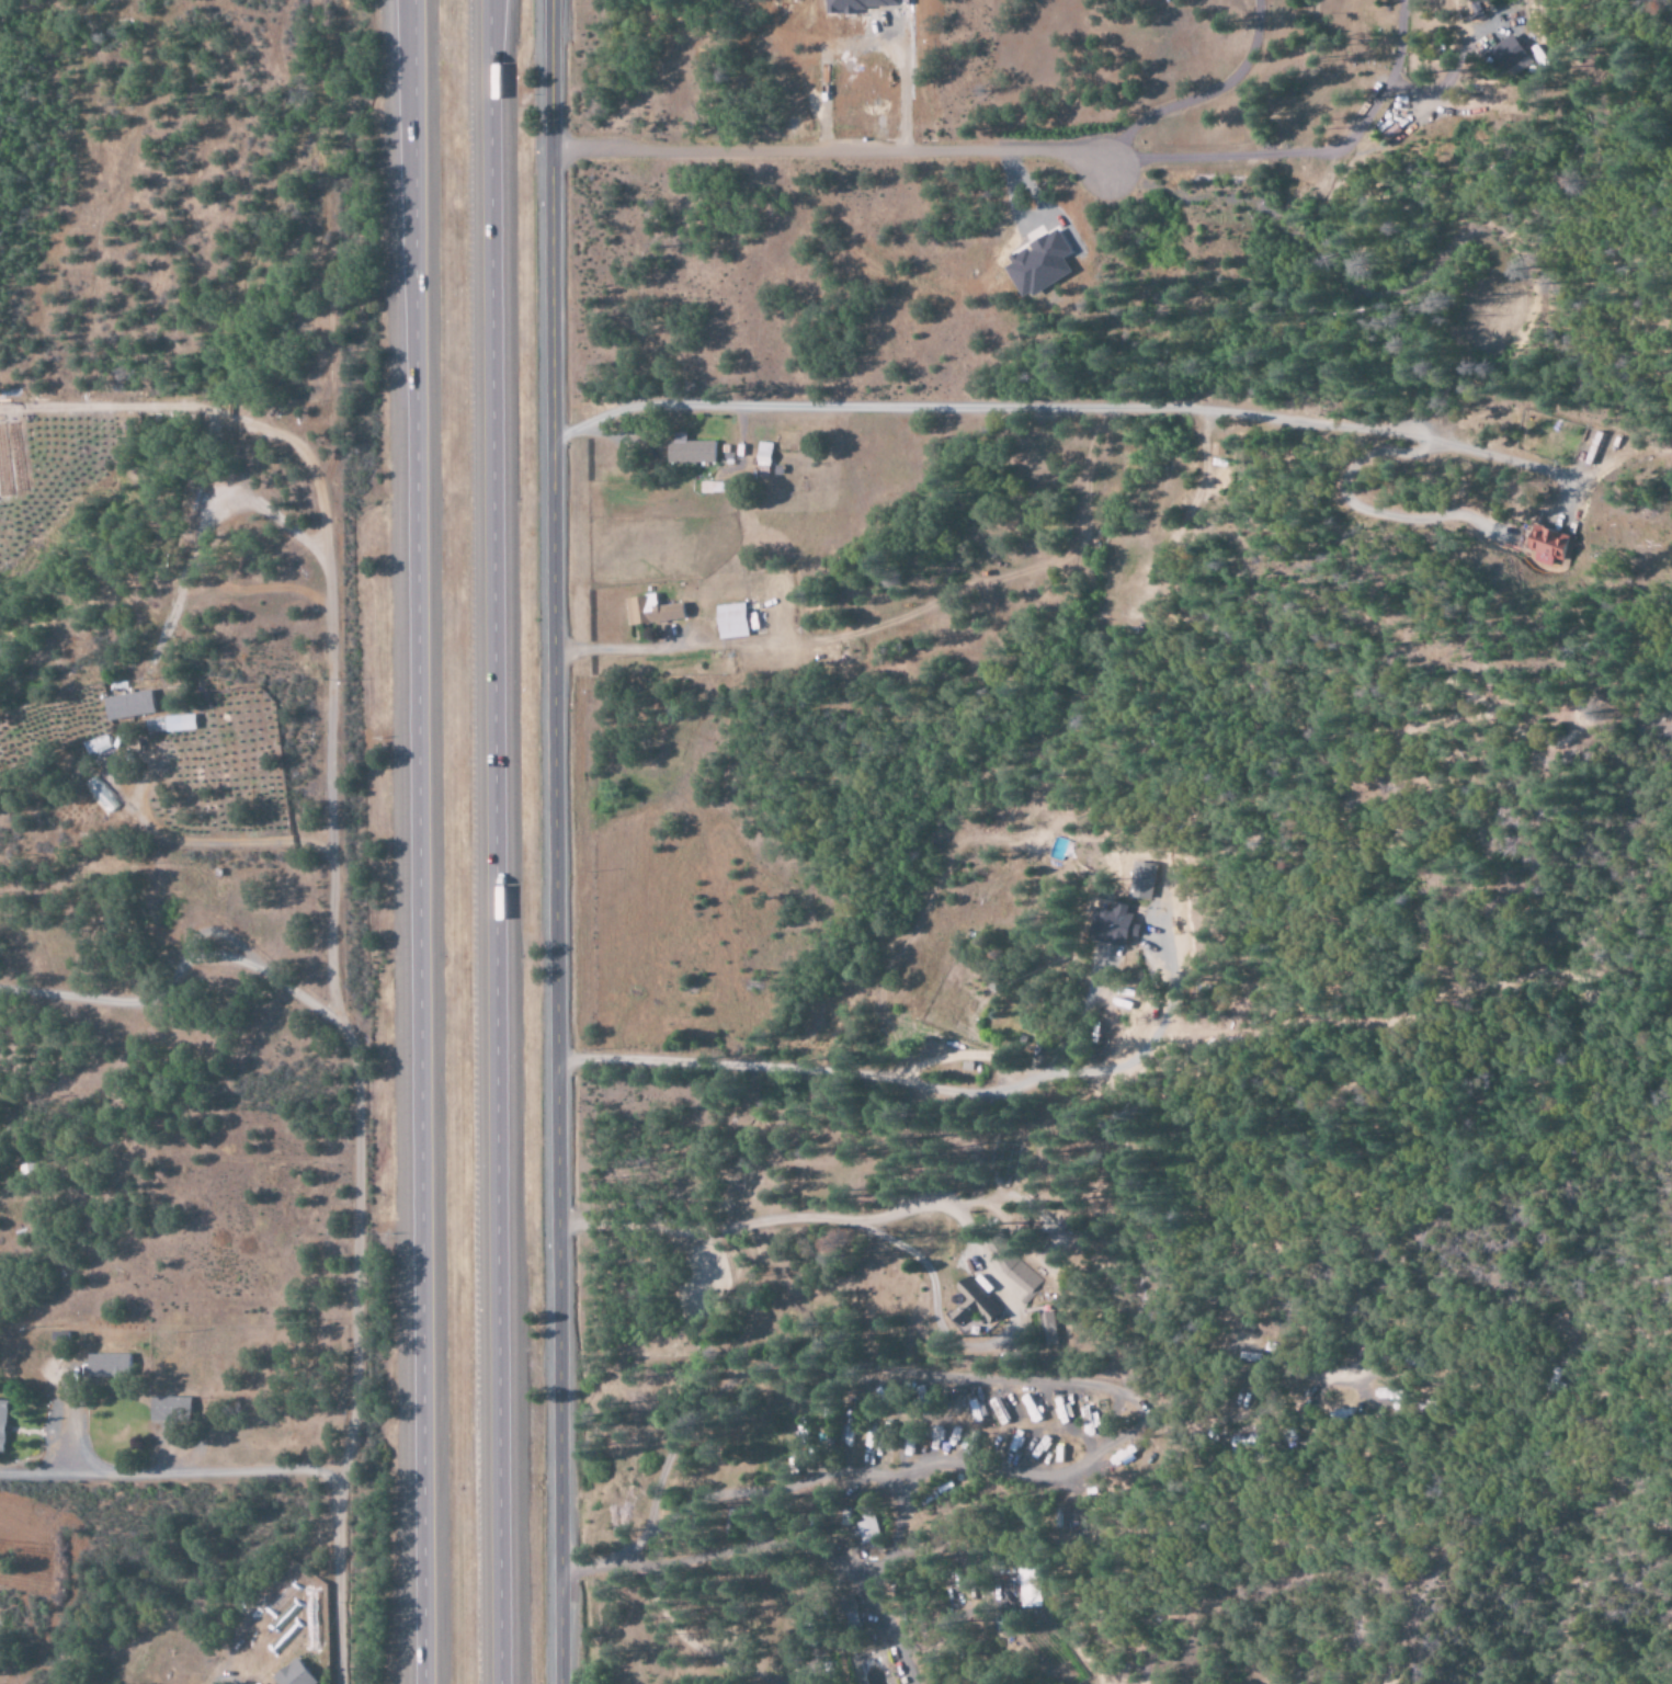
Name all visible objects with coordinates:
building: (1505, 53)
building: (1036, 264)
building: (686, 451)
building: (761, 454)
building: (3, 467)
building: (1545, 542)
building: (647, 611)
building: (731, 622)
building: (126, 706)
building: (178, 724)
road: (512, 841)
road: (418, 842)
road: (555, 842)
building: (1140, 880)
building: (1112, 925)
road: (350, 1065)
building: (1017, 1274)
building: (968, 1306)
building: (1047, 1329)
building: (105, 1366)
building: (167, 1408)
building: (1, 1422)
building: (1089, 1423)
building: (846, 1431)
building: (1246, 1441)
building: (866, 1529)
building: (1032, 1588)
building: (844, 1614)
building: (289, 1675)

